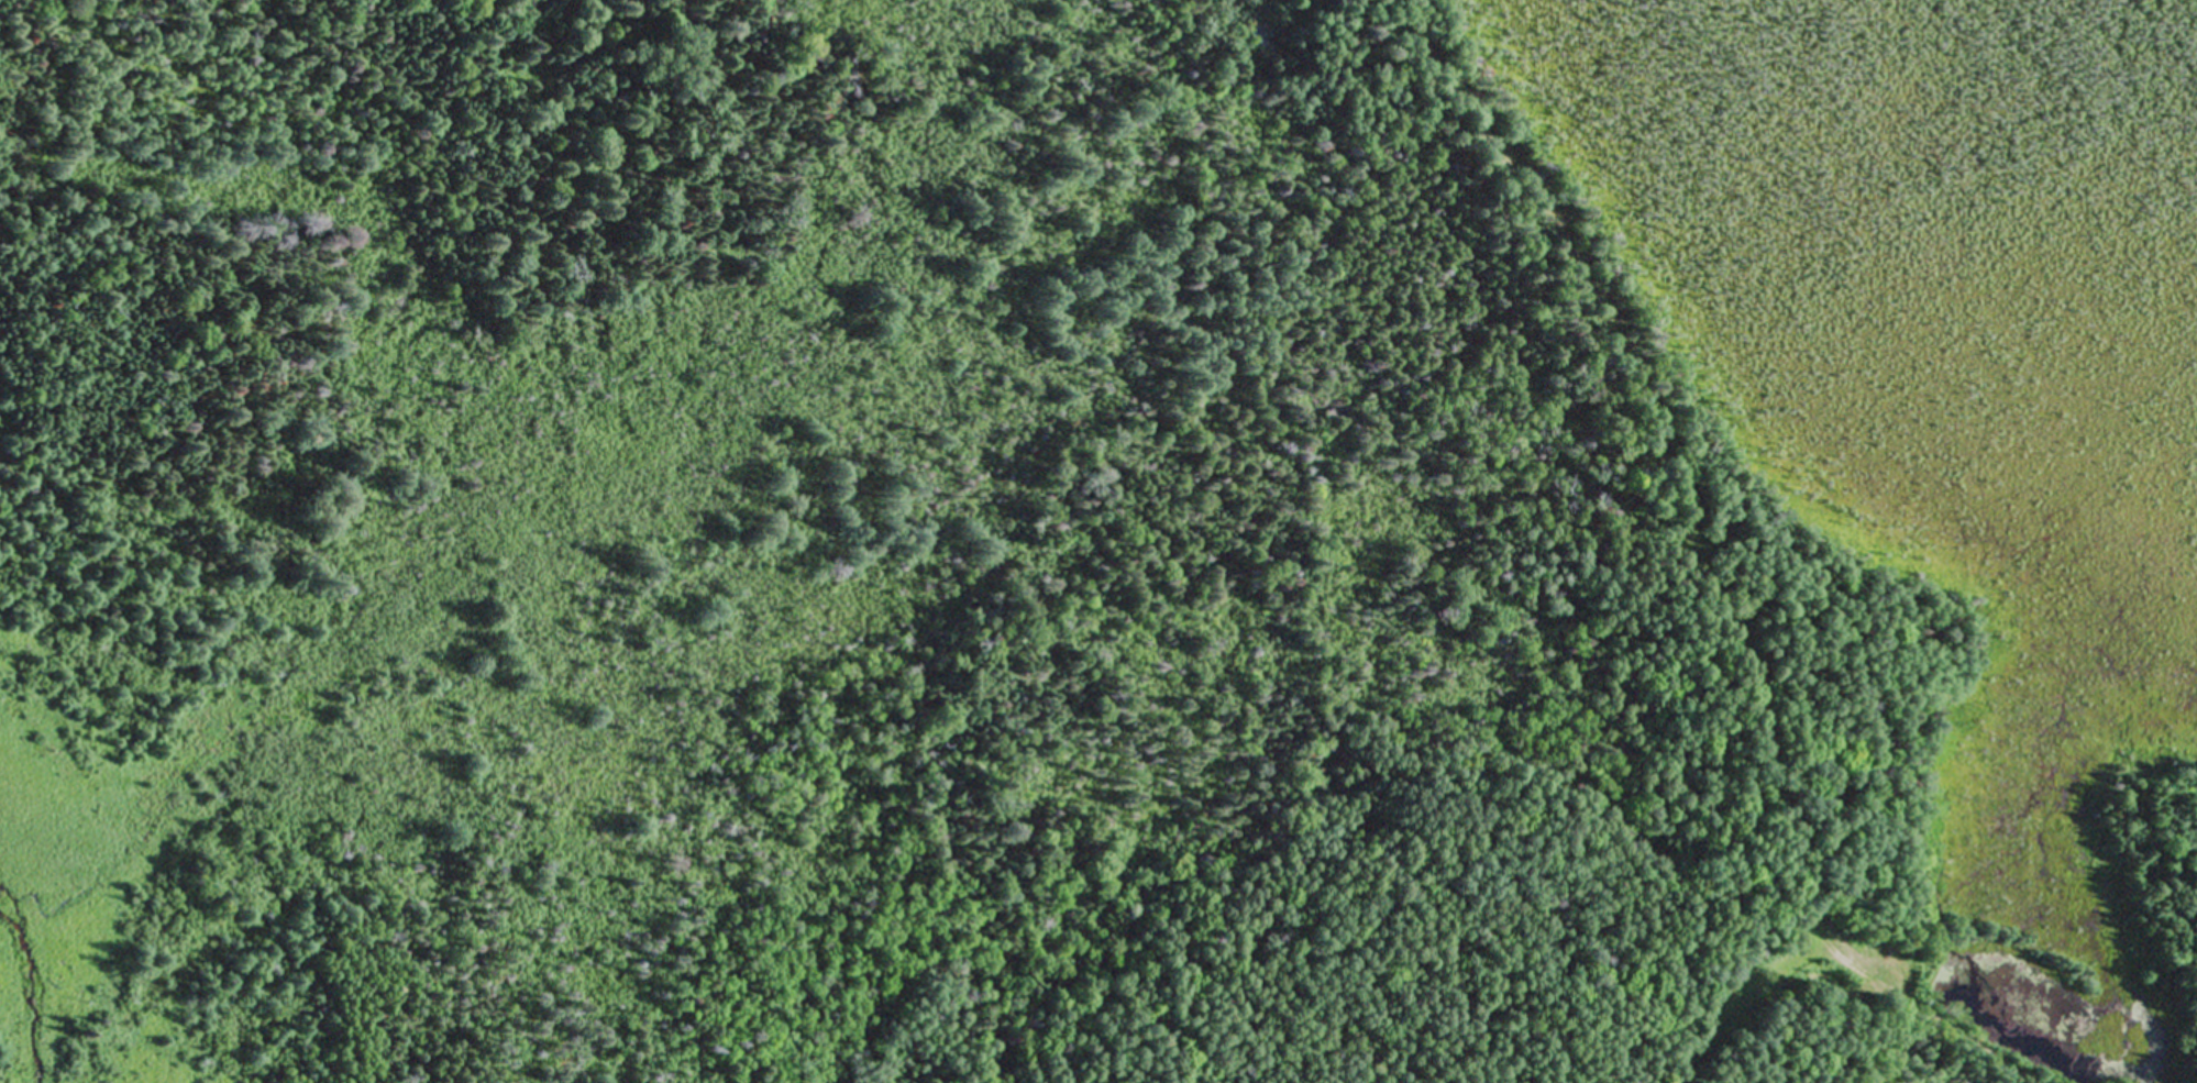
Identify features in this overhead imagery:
road: (1679, 581)

